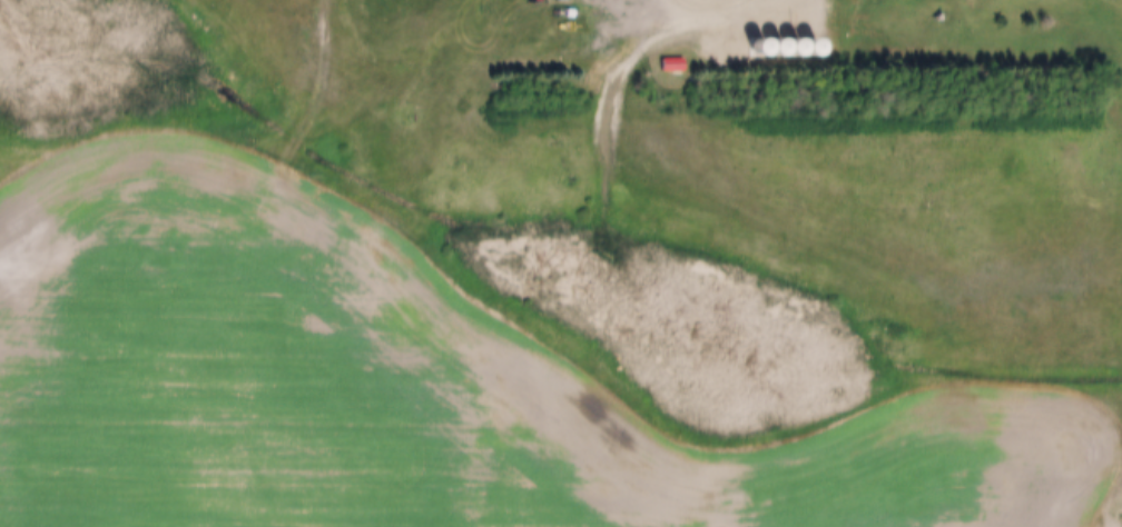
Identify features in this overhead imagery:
building: (673, 71)

